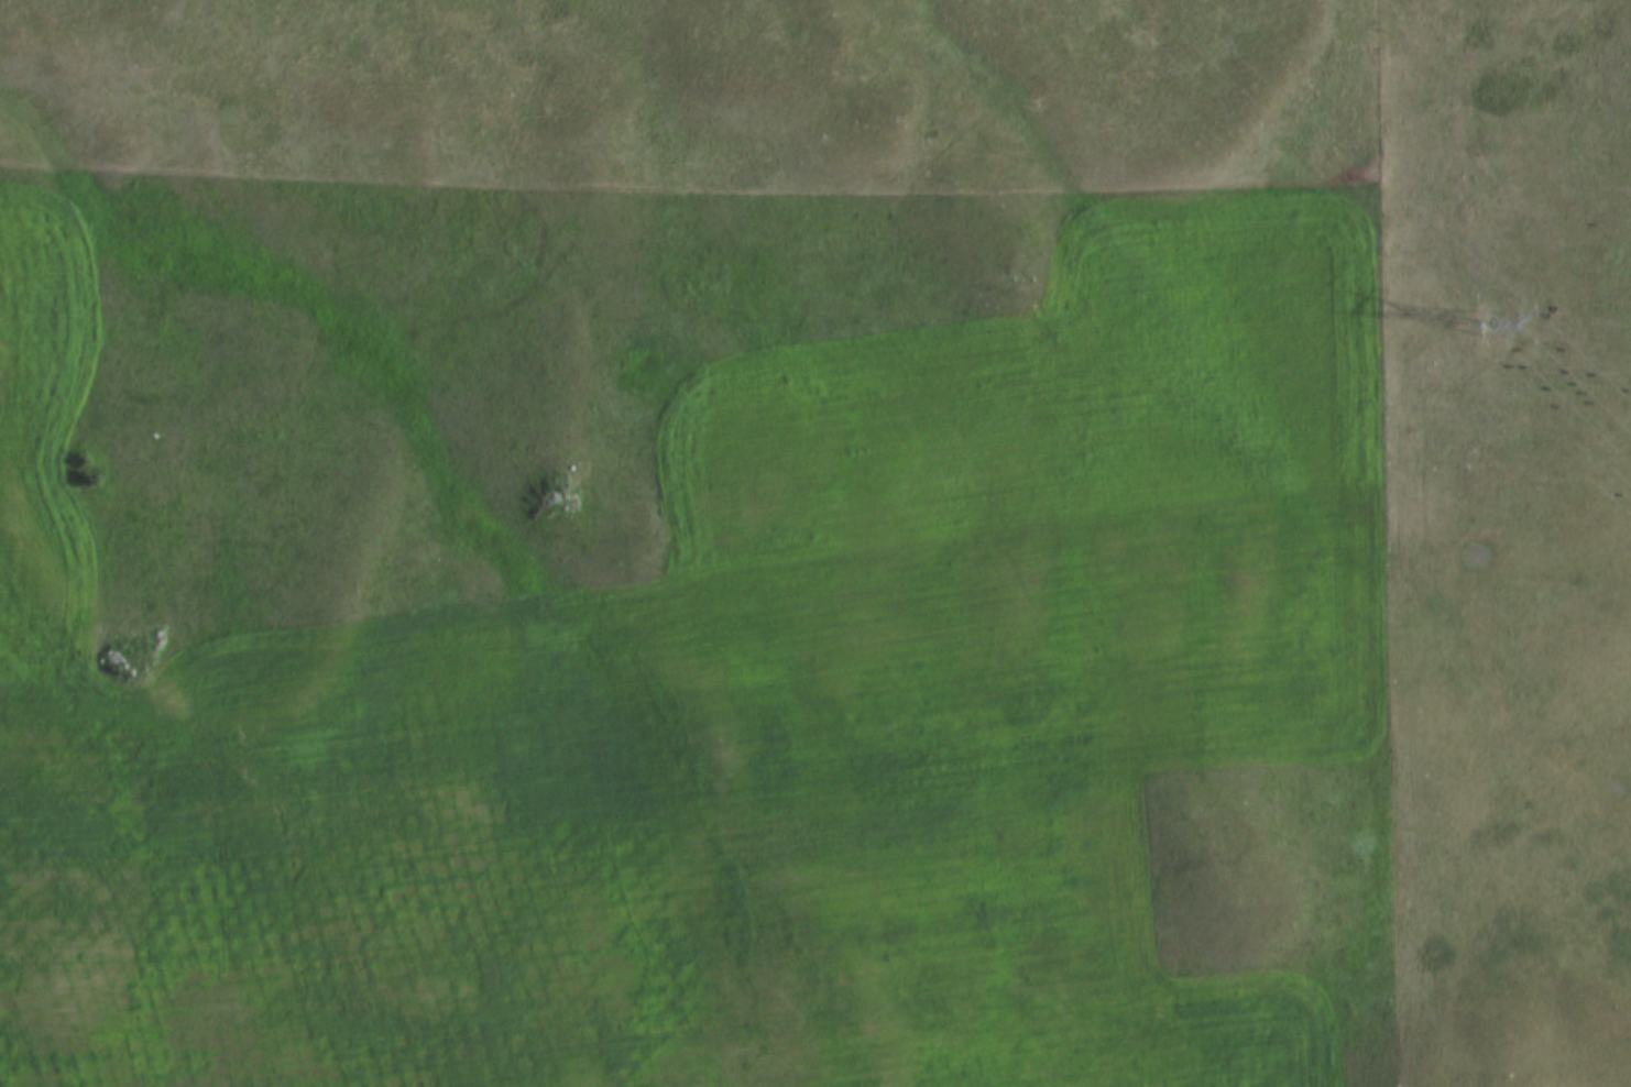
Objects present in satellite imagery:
power tower: (1478, 327)

